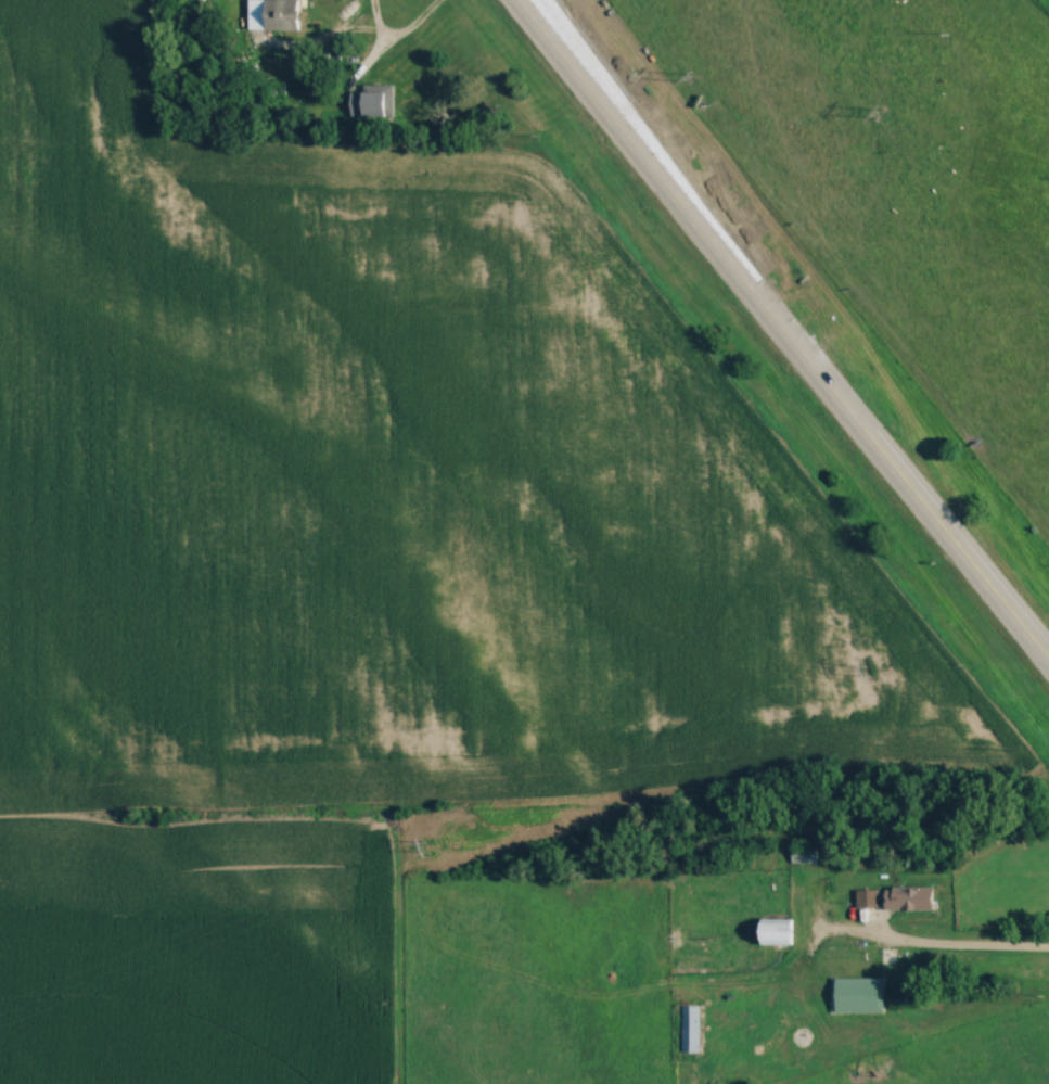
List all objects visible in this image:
building: (283, 15)
road: (399, 31)
power tower: (693, 78)
building: (373, 101)
power tower: (877, 104)
road: (783, 333)
power tower: (867, 667)
power tower: (426, 845)
building: (804, 855)
building: (910, 898)
building: (868, 900)
building: (778, 932)
road: (937, 951)
building: (858, 995)
building: (689, 1030)

